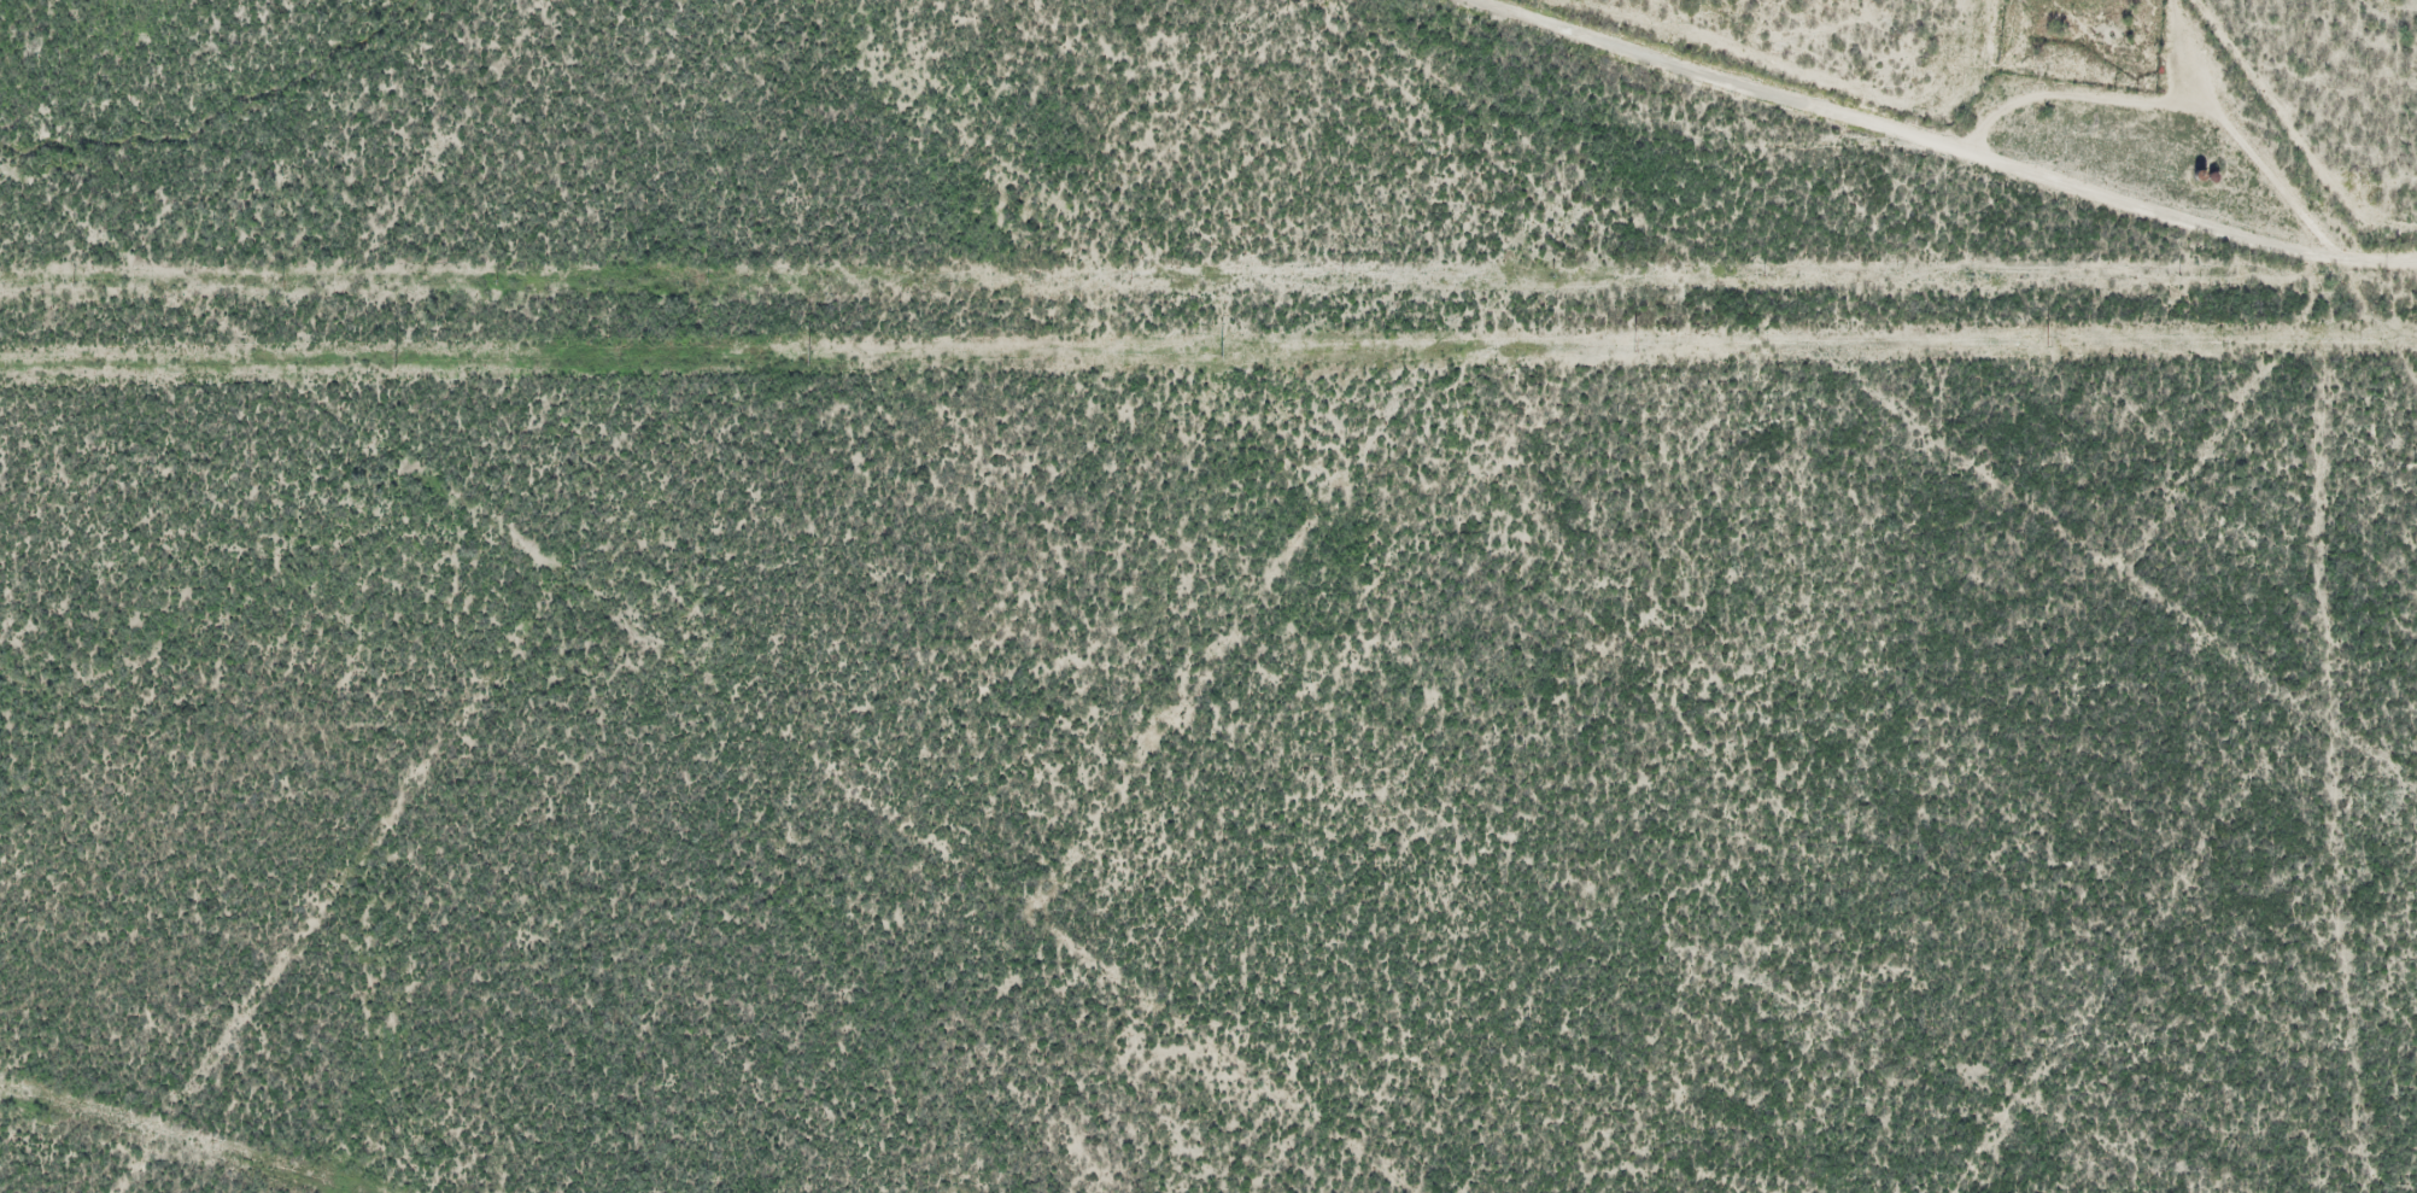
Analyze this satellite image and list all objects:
road: (1930, 141)
power tower: (2048, 340)
power tower: (1632, 345)
power tower: (1221, 351)
power tower: (807, 356)
power tower: (392, 359)

